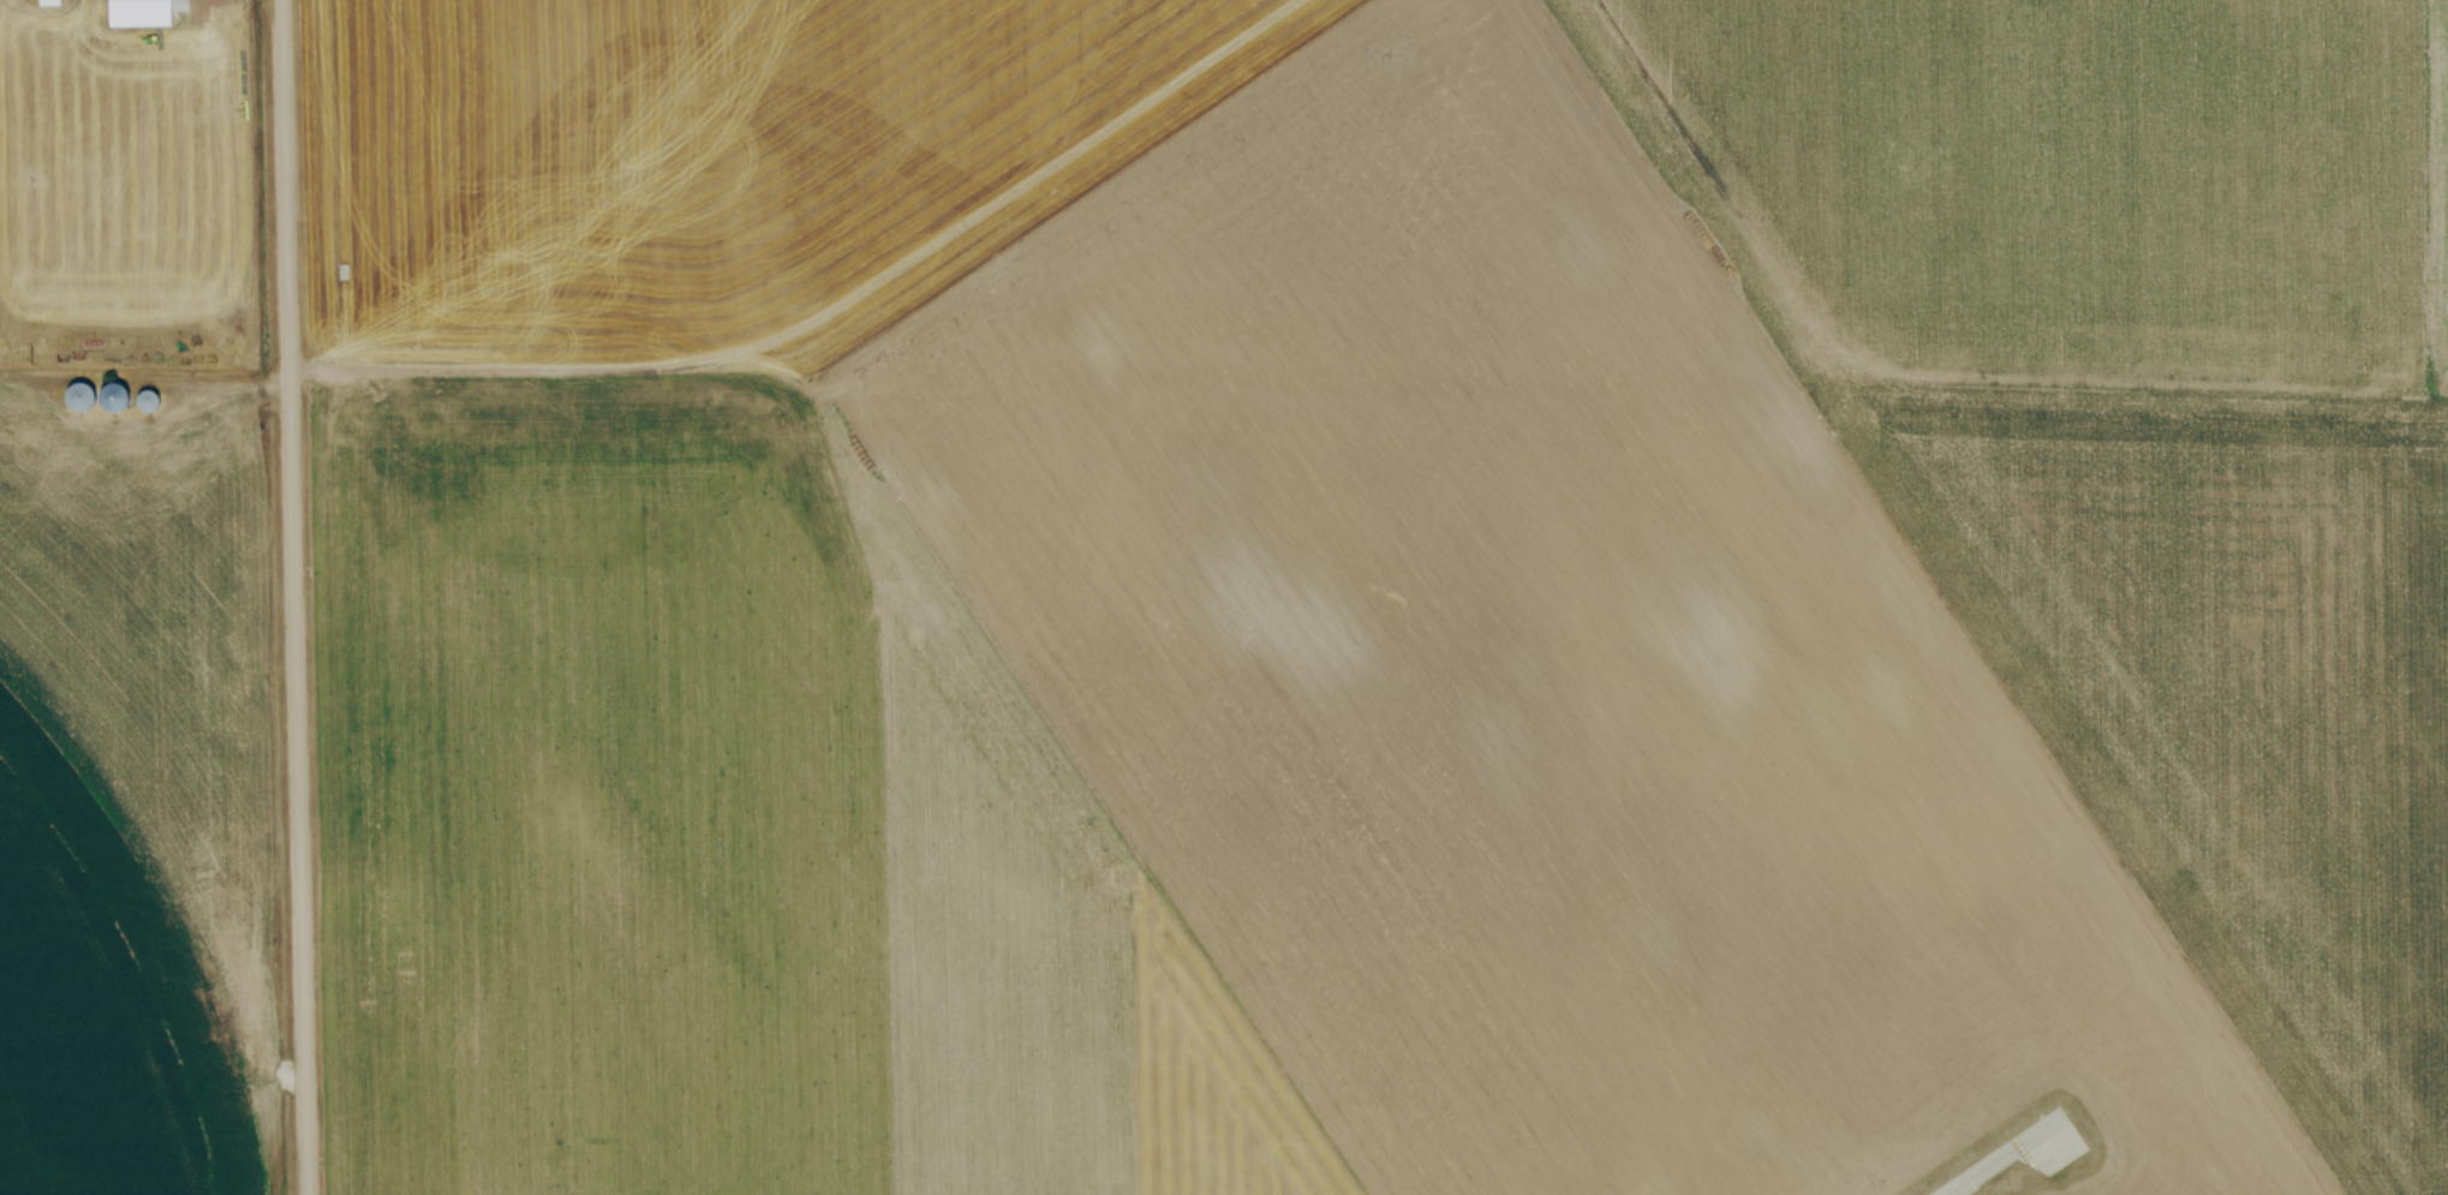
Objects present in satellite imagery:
building: (52, 2)
building: (83, 398)
building: (120, 398)
road: (294, 597)
airport: (1527, 669)
airport taxiway: (2010, 1153)

